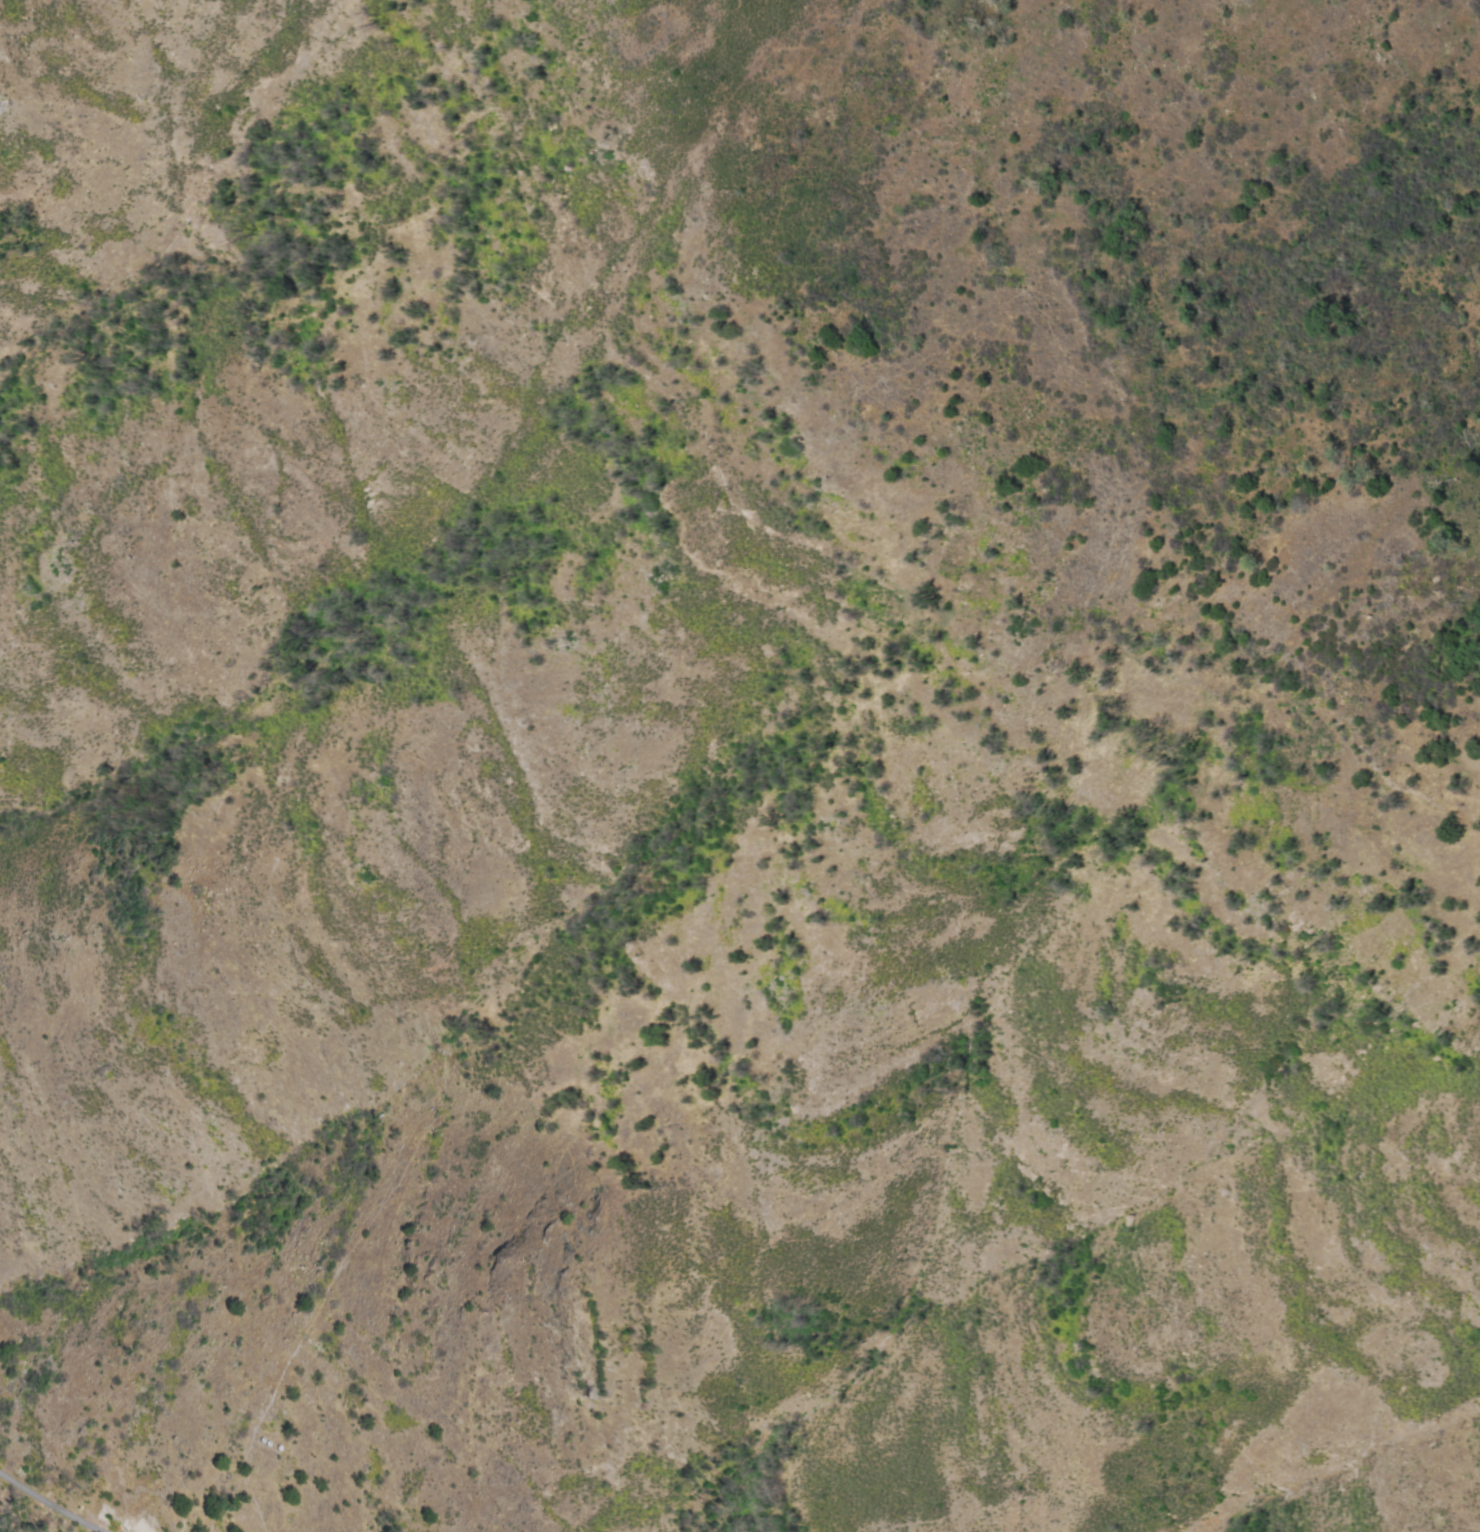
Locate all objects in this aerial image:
road: (49, 1502)

